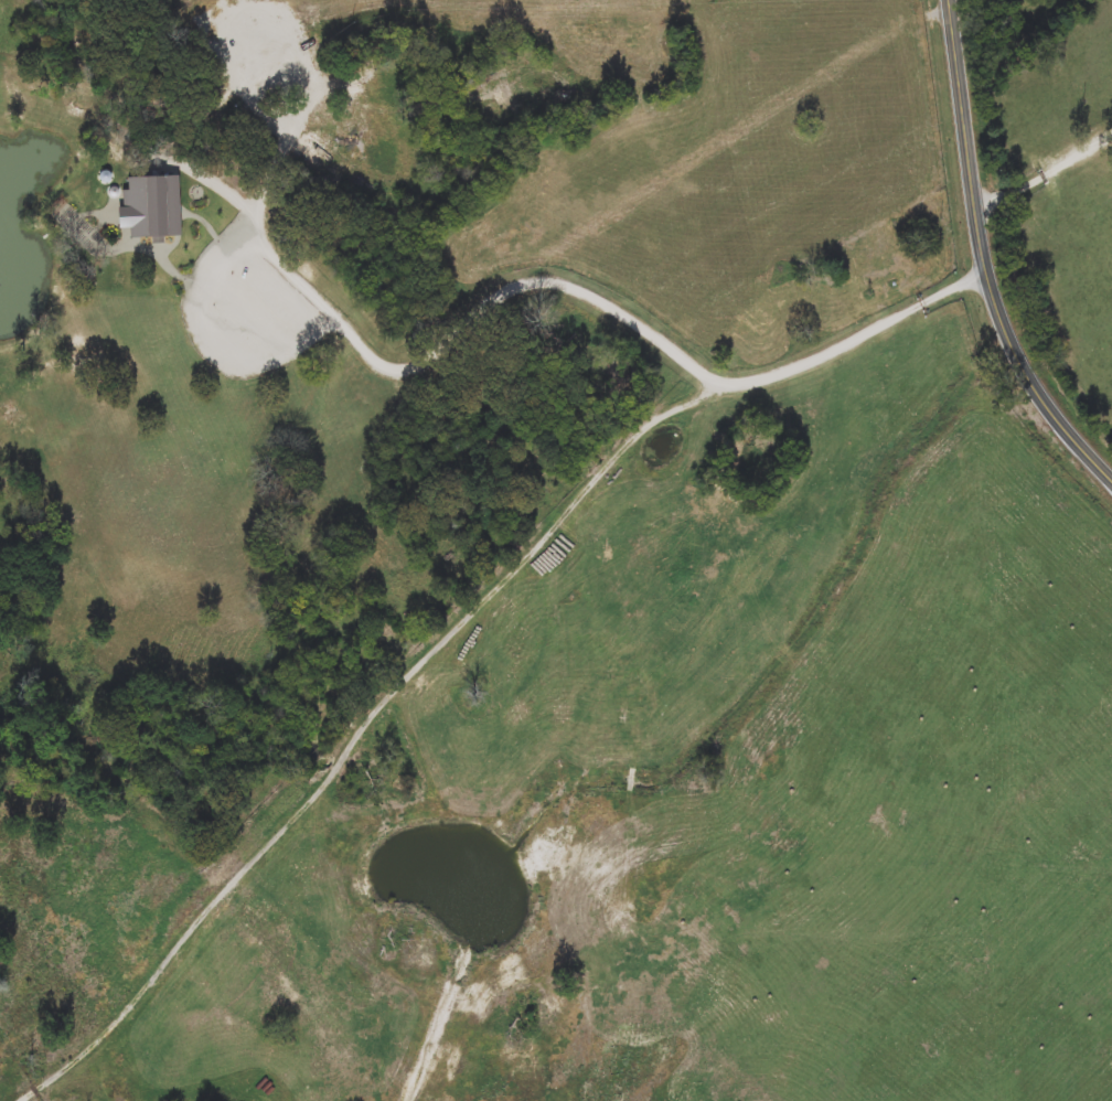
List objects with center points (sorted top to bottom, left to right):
building: (646, 72)
building: (493, 103)
road: (1048, 170)
road: (990, 254)
road: (859, 342)
road: (550, 527)

